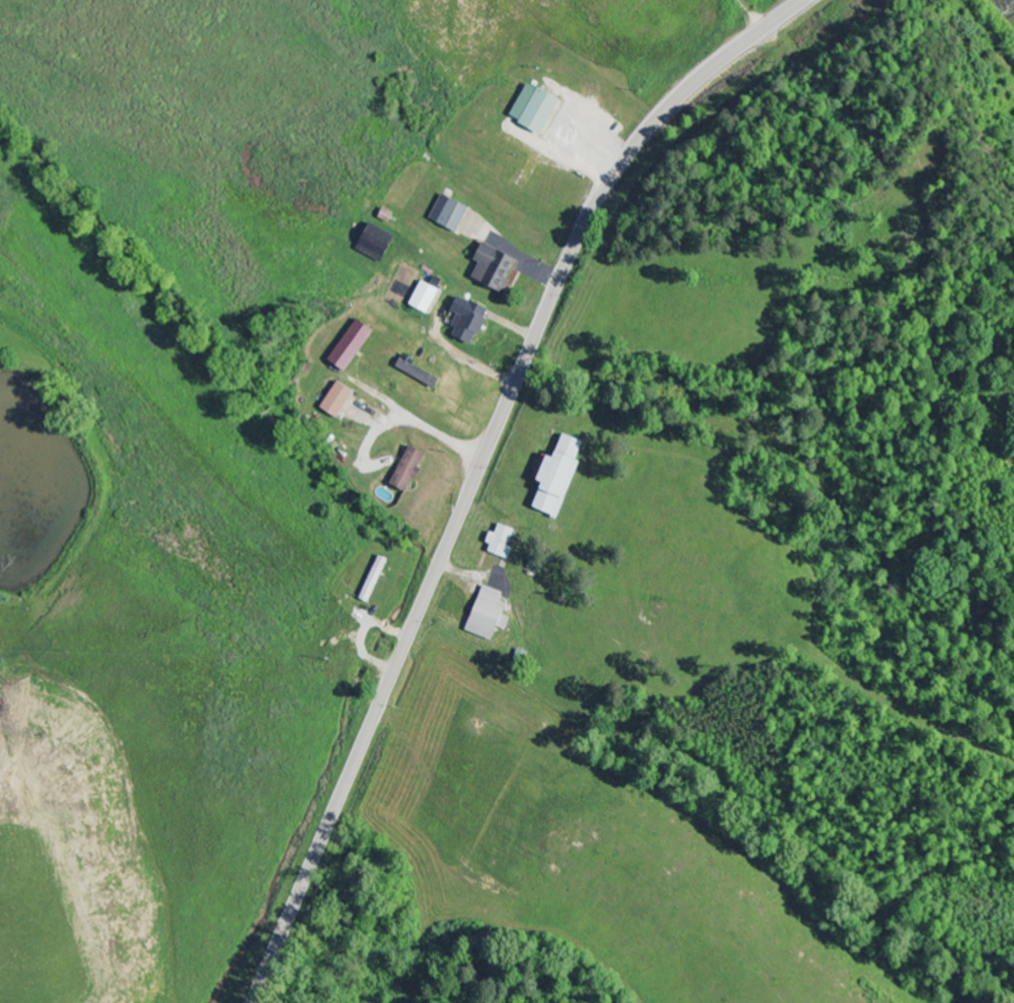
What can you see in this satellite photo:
building: (538, 109)
building: (452, 214)
building: (379, 244)
building: (497, 269)
building: (427, 298)
building: (471, 321)
building: (354, 346)
building: (418, 372)
building: (340, 401)
road: (480, 467)
building: (411, 470)
building: (561, 478)
building: (503, 542)
building: (491, 616)
road: (139, 883)

